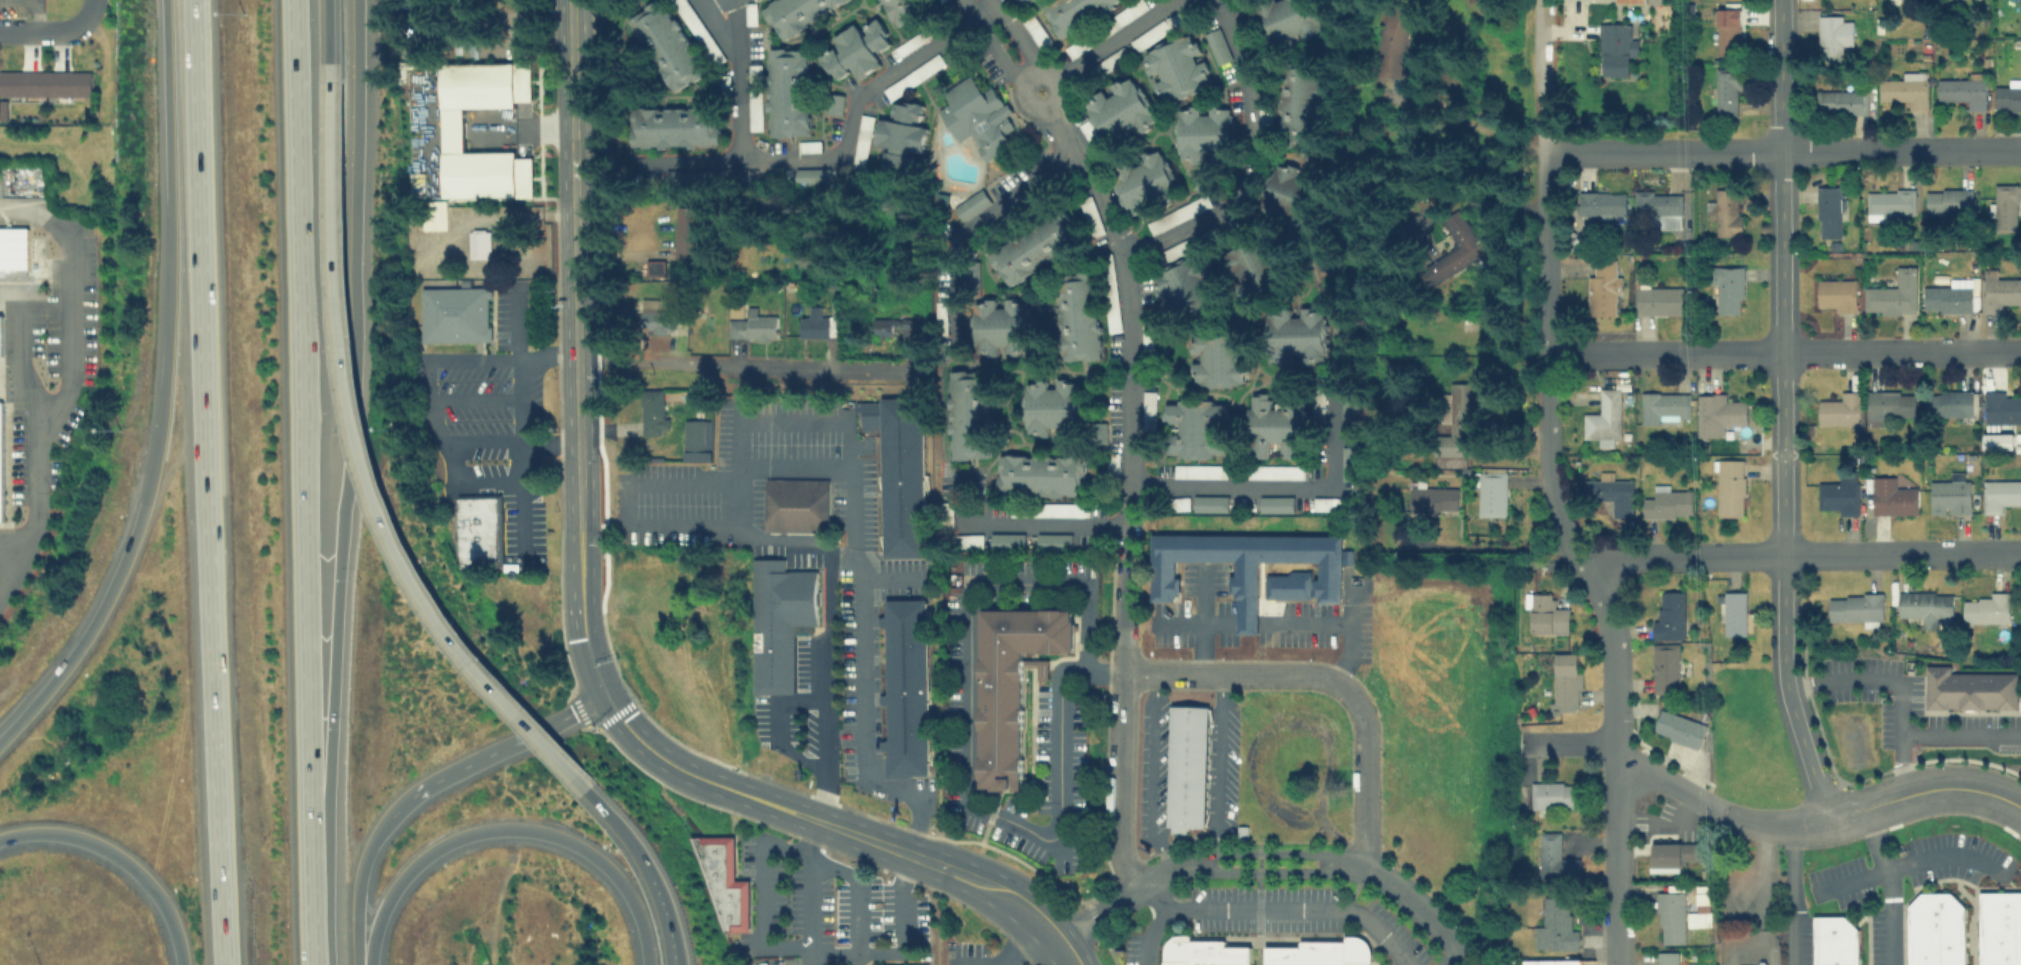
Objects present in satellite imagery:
building: (1629, 1)
building: (1017, 2)
road: (709, 4)
road: (89, 7)
building: (902, 9)
building: (1073, 12)
building: (750, 13)
parking lot: (750, 13)
building: (796, 13)
building: (1127, 13)
parking lot: (1177, 17)
building: (1286, 20)
building: (1728, 23)
parking lot: (1104, 27)
road: (716, 28)
building: (1157, 29)
road: (46, 30)
parking lot: (699, 30)
road: (329, 31)
building: (699, 31)
building: (1035, 31)
parking lot: (1036, 32)
road: (1016, 34)
parking lot: (922, 35)
parking lot: (1148, 35)
building: (1833, 35)
road: (1119, 36)
building: (1391, 39)
road: (989, 42)
building: (910, 43)
building: (668, 44)
building: (1217, 45)
building: (1076, 47)
building: (1615, 48)
building: (855, 49)
building: (1108, 61)
parking lot: (1103, 65)
building: (1176, 67)
road: (1029, 73)
parking lot: (912, 76)
building: (913, 76)
road: (737, 80)
building: (45, 82)
parking lot: (724, 83)
building: (483, 85)
fountain: (1039, 89)
building: (1726, 90)
building: (787, 91)
building: (1905, 91)
building: (1963, 92)
road: (571, 93)
building: (2008, 95)
parking lot: (755, 96)
building: (1841, 101)
building: (755, 103)
building: (834, 103)
building: (1301, 106)
building: (1119, 110)
building: (977, 116)
building: (1263, 117)
road: (1466, 122)
building: (675, 126)
parking lot: (1088, 132)
building: (1204, 132)
building: (900, 133)
road: (844, 140)
parking lot: (861, 140)
building: (862, 141)
building: (809, 146)
parking lot: (809, 146)
road: (1779, 151)
road: (1249, 162)
building: (481, 172)
building: (812, 175)
building: (1143, 181)
building: (1289, 199)
building: (1950, 201)
building: (1601, 203)
building: (971, 204)
building: (1890, 204)
building: (1658, 206)
building: (2004, 206)
building: (1725, 210)
building: (1829, 210)
building: (1178, 213)
parking lot: (1178, 214)
building: (1090, 215)
parking lot: (1090, 215)
road: (352, 223)
road: (966, 228)
building: (687, 229)
building: (479, 242)
building: (1031, 246)
building: (1455, 248)
building: (14, 249)
parking lot: (1172, 250)
building: (1175, 250)
building: (655, 269)
building: (1248, 269)
road: (574, 272)
building: (970, 276)
building: (1603, 288)
building: (1727, 288)
building: (1180, 290)
building: (1998, 291)
parking lot: (1109, 292)
road: (9, 293)
building: (1837, 294)
building: (1892, 294)
building: (1949, 296)
building: (1110, 300)
building: (1659, 300)
road: (67, 307)
building: (455, 313)
building: (1078, 315)
parking lot: (940, 316)
building: (656, 317)
road: (516, 318)
road: (1782, 320)
building: (754, 325)
building: (1002, 325)
building: (816, 326)
building: (884, 326)
parking lot: (1146, 333)
building: (1, 334)
building: (1295, 334)
road: (1784, 349)
road: (547, 353)
road: (1130, 354)
road: (477, 357)
building: (1219, 358)
road: (745, 361)
road: (1022, 367)
road: (24, 377)
road: (162, 392)
road: (295, 396)
road: (476, 398)
building: (1317, 399)
parking lot: (1317, 401)
building: (1949, 403)
building: (1665, 405)
building: (1052, 406)
building: (1887, 406)
building: (2001, 407)
building: (1839, 409)
building: (1348, 411)
building: (652, 412)
building: (968, 413)
building: (1717, 413)
building: (1147, 415)
building: (1604, 415)
road: (760, 419)
parking lot: (1147, 423)
building: (1273, 425)
building: (1195, 427)
building: (1456, 428)
road: (577, 432)
building: (697, 439)
road: (481, 440)
building: (1997, 441)
road: (549, 444)
road: (357, 462)
building: (1111, 462)
building: (1349, 463)
road: (791, 464)
parking lot: (1112, 465)
building: (0, 469)
building: (900, 469)
parking lot: (1200, 470)
building: (1199, 471)
building: (1275, 471)
parking lot: (1275, 471)
building: (1042, 474)
road: (212, 482)
road: (1278, 486)
road: (1552, 486)
building: (1729, 487)
building: (1491, 492)
building: (1837, 493)
building: (1999, 493)
building: (1612, 495)
building: (1950, 495)
building: (1892, 497)
road: (854, 498)
building: (1433, 498)
building: (1209, 502)
parking lot: (1178, 503)
building: (1179, 503)
building: (1275, 503)
building: (1325, 503)
parking lot: (1325, 503)
building: (1668, 503)
building: (796, 504)
parking lot: (1048, 509)
building: (1060, 509)
parking lot: (944, 514)
building: (946, 515)
road: (1043, 523)
road: (644, 524)
building: (478, 531)
building: (1006, 539)
building: (968, 540)
parking lot: (968, 540)
building: (1052, 540)
road: (1481, 547)
road: (1801, 550)
road: (23, 555)
road: (571, 557)
building: (1245, 564)
building: (1288, 584)
road: (592, 598)
building: (1925, 605)
building: (1856, 607)
building: (1989, 608)
building: (1547, 613)
building: (1733, 613)
building: (1668, 615)
road: (323, 619)
building: (780, 619)
road: (1203, 621)
road: (1179, 622)
road: (1246, 623)
road: (1304, 623)
road: (1350, 632)
traffic signals: (576, 638)
road: (580, 655)
traffic signals: (603, 665)
building: (1664, 668)
road: (1233, 674)
road: (1869, 677)
road: (818, 680)
building: (1565, 680)
building: (1013, 685)
building: (906, 688)
building: (1969, 689)
road: (604, 694)
road: (864, 695)
traffic signals: (571, 712)
traffic signals: (612, 726)
building: (1679, 727)
road: (777, 728)
road: (1798, 730)
road: (1930, 733)
road: (1569, 742)
road: (968, 744)
road: (490, 752)
road: (1119, 757)
building: (1190, 766)
road: (1226, 768)
road: (1368, 773)
road: (1160, 774)
road: (1923, 789)
building: (1557, 794)
road: (1711, 805)
road: (1672, 811)
road: (856, 822)
road: (542, 830)
road: (815, 832)
building: (1672, 853)
road: (114, 854)
building: (1555, 856)
road: (1909, 861)
road: (1212, 863)
road: (647, 867)
road: (953, 869)
road: (304, 879)
building: (720, 879)
road: (1889, 883)
road: (358, 885)
road: (1792, 894)
road: (809, 896)
road: (857, 896)
road: (756, 901)
road: (1301, 908)
road: (1429, 908)
parking lot: (1295, 913)
building: (1670, 917)
road: (1159, 919)
building: (1554, 925)
building: (2000, 928)
building: (1936, 930)
road: (374, 932)
building: (1834, 940)
power substation: (1746, 948)
parking lot: (1131, 949)
road: (1024, 950)
road: (897, 951)
building: (1204, 951)
building: (1322, 952)
road: (180, 957)
road: (1054, 957)
road: (1454, 957)
building: (1668, 958)
building: (1553, 962)
road: (779, 963)
road: (1617, 963)
building: (878, 964)

